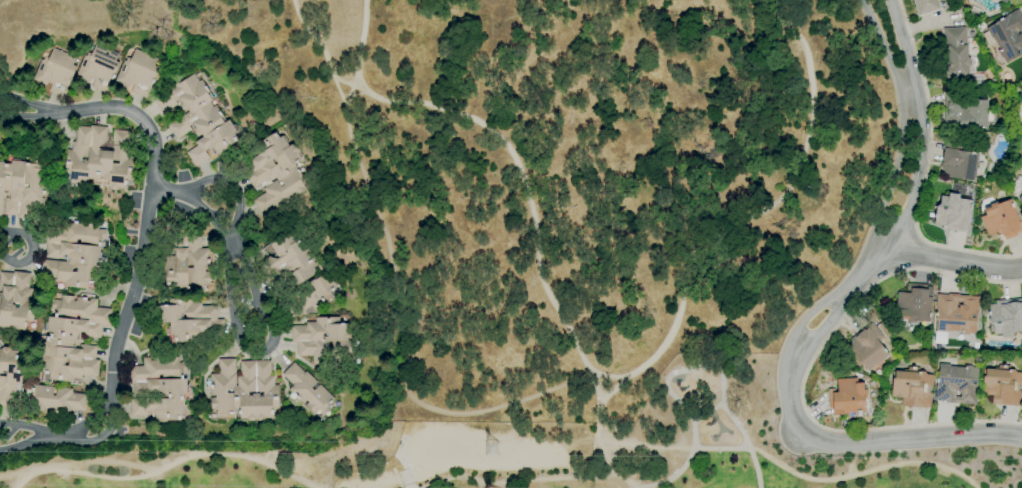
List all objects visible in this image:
building: (1004, 0)
building: (925, 6)
building: (971, 34)
building: (1006, 35)
building: (973, 44)
building: (959, 58)
building: (98, 68)
building: (55, 71)
building: (138, 72)
road: (106, 109)
building: (965, 109)
building: (197, 116)
building: (98, 158)
building: (959, 161)
road: (519, 167)
road: (926, 168)
building: (275, 171)
park: (573, 179)
building: (22, 187)
building: (1018, 188)
building: (954, 209)
road: (755, 210)
building: (928, 215)
building: (1001, 220)
road: (231, 234)
road: (9, 246)
building: (72, 253)
building: (292, 257)
road: (954, 259)
building: (187, 263)
building: (312, 294)
road: (398, 295)
building: (16, 302)
building: (914, 303)
road: (126, 307)
road: (821, 314)
building: (955, 315)
building: (1006, 316)
building: (189, 320)
building: (72, 338)
building: (324, 340)
building: (1021, 343)
building: (976, 345)
building: (868, 347)
building: (977, 362)
road: (806, 371)
building: (8, 375)
building: (956, 384)
building: (1002, 385)
building: (159, 387)
building: (912, 387)
building: (244, 390)
building: (307, 390)
road: (673, 392)
building: (846, 396)
building: (57, 399)
building: (842, 423)
road: (49, 431)
power tower: (498, 445)
park: (556, 451)
road: (170, 470)
road: (863, 475)
road: (528, 483)
road: (635, 487)

